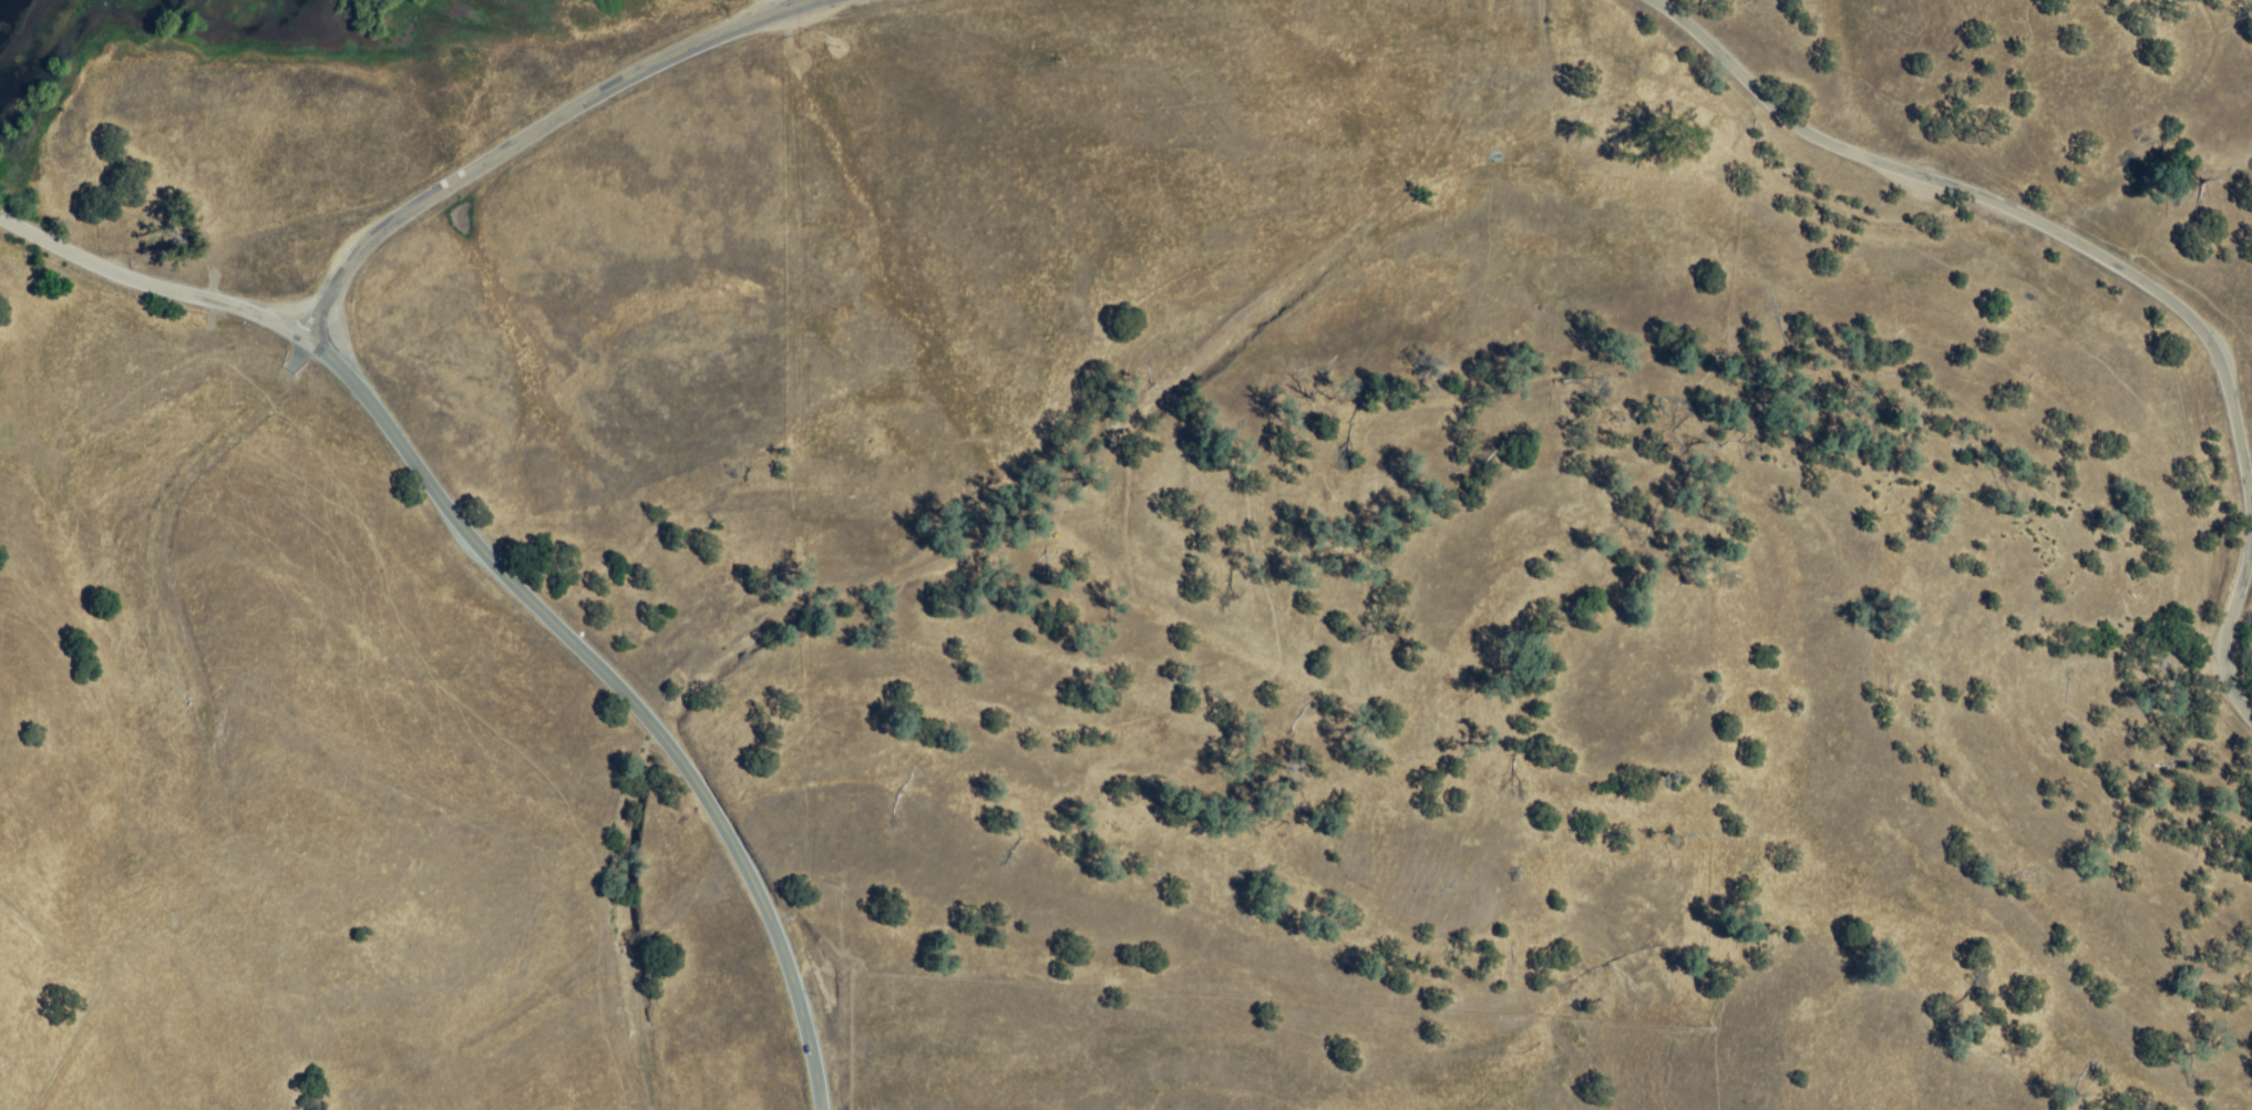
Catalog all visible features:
road: (539, 131)
road: (2006, 209)
road: (150, 288)
road: (2227, 636)
road: (620, 690)

